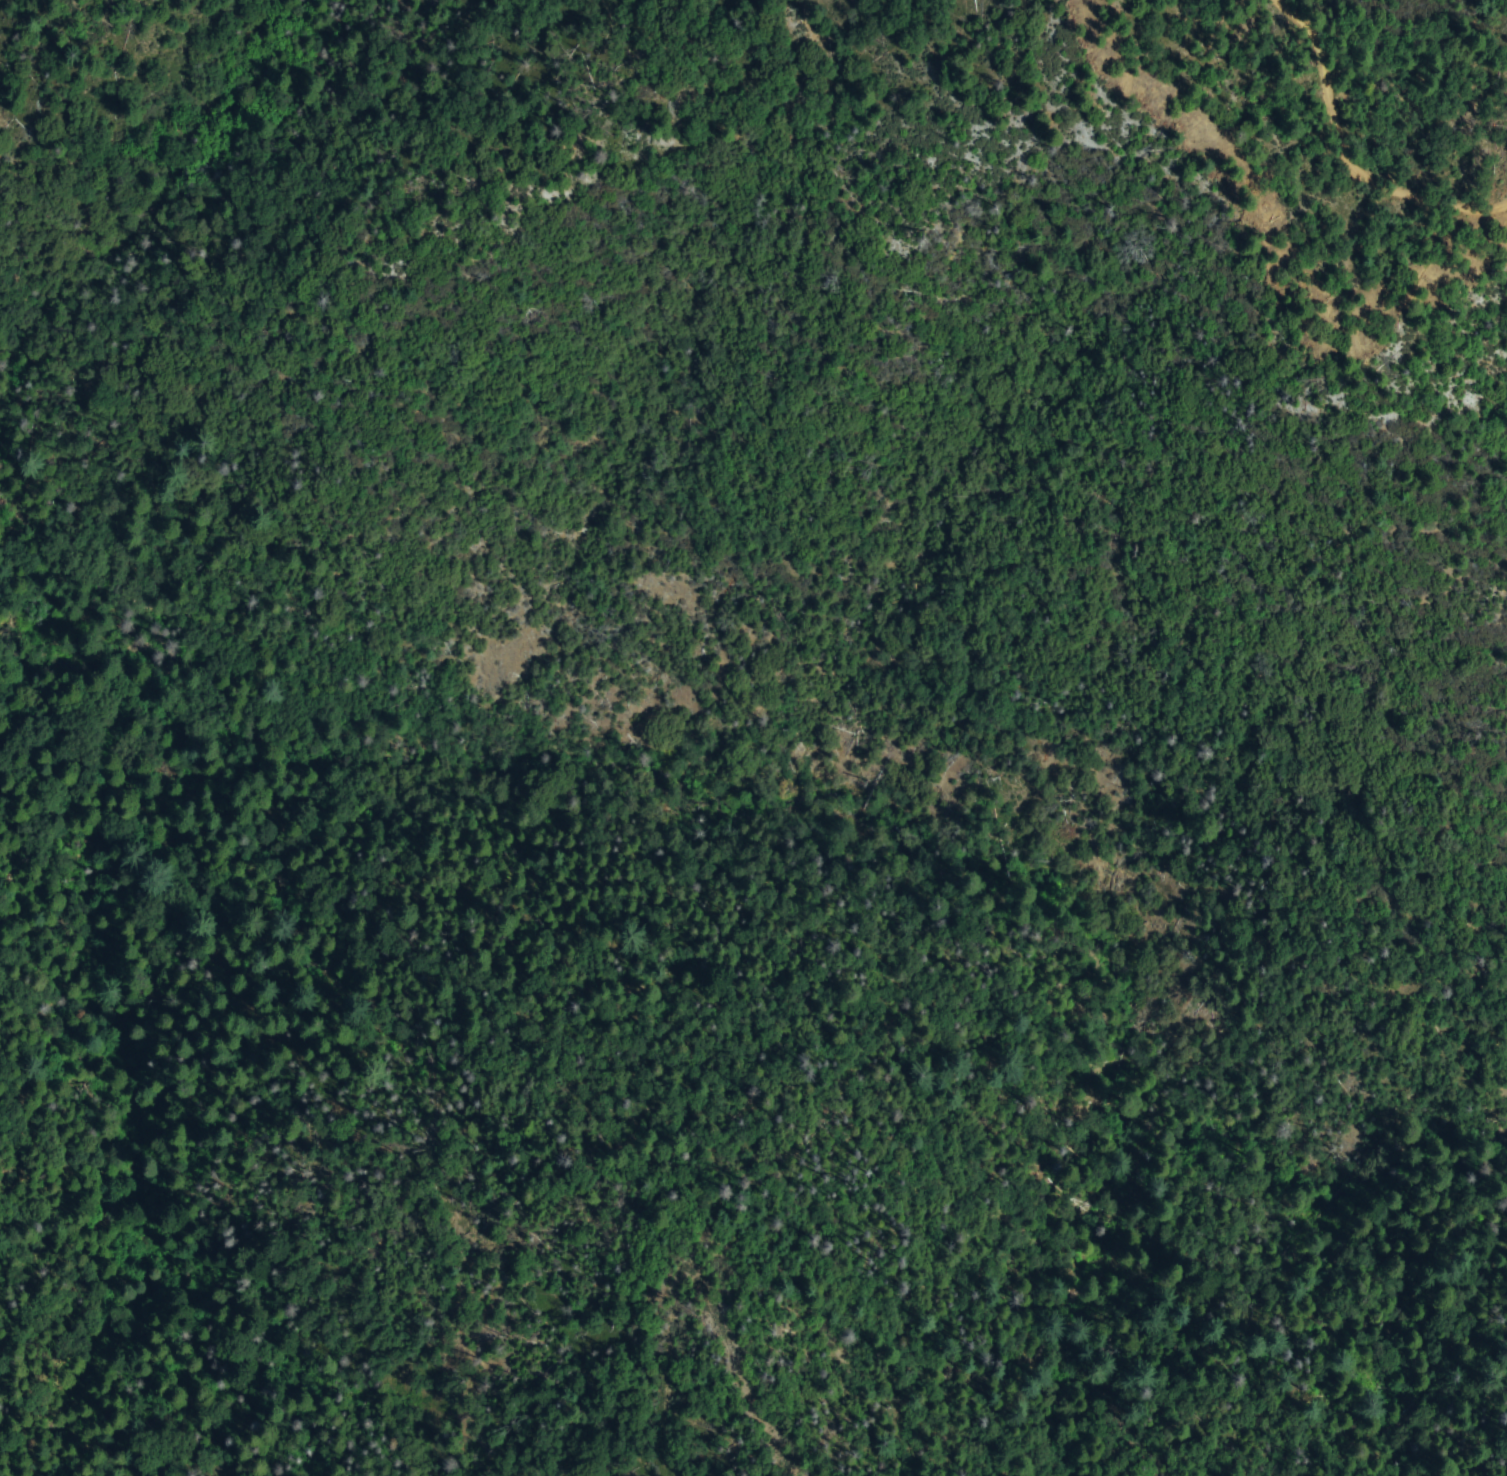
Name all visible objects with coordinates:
road: (1343, 163)

